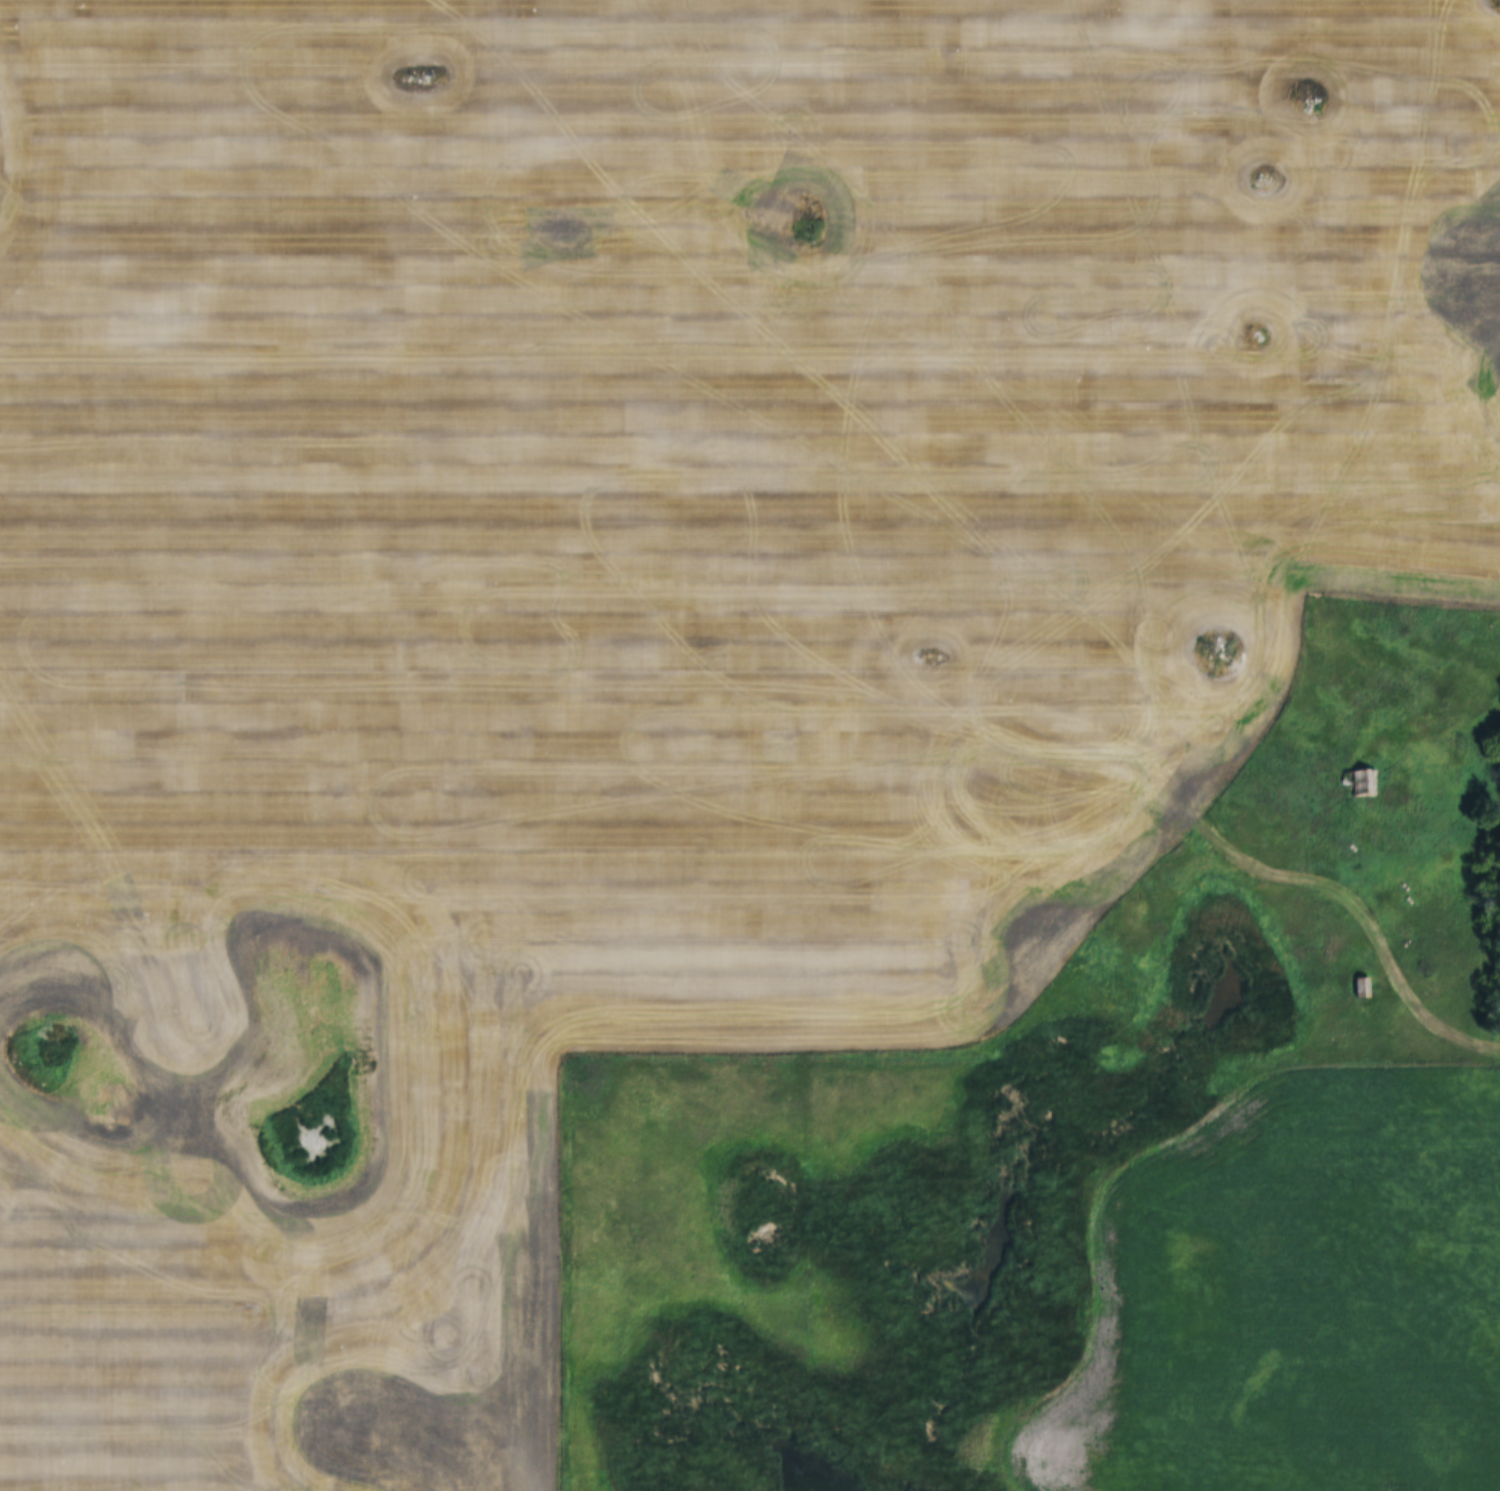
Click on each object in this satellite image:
building: (1368, 783)
road: (1371, 918)
building: (1367, 987)

